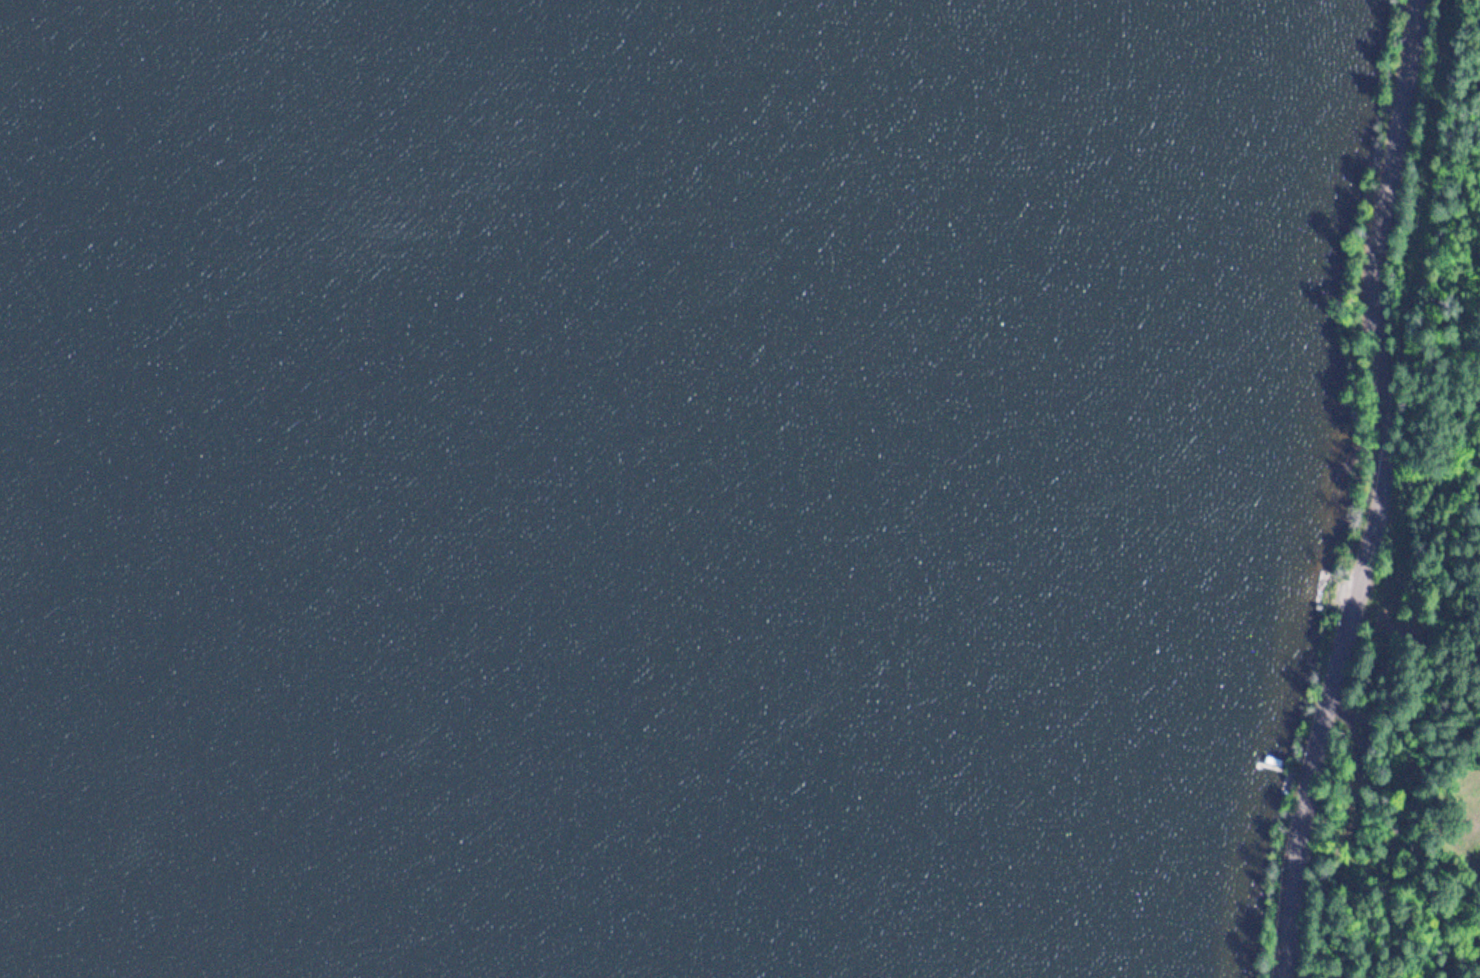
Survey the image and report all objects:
road: (1378, 492)

